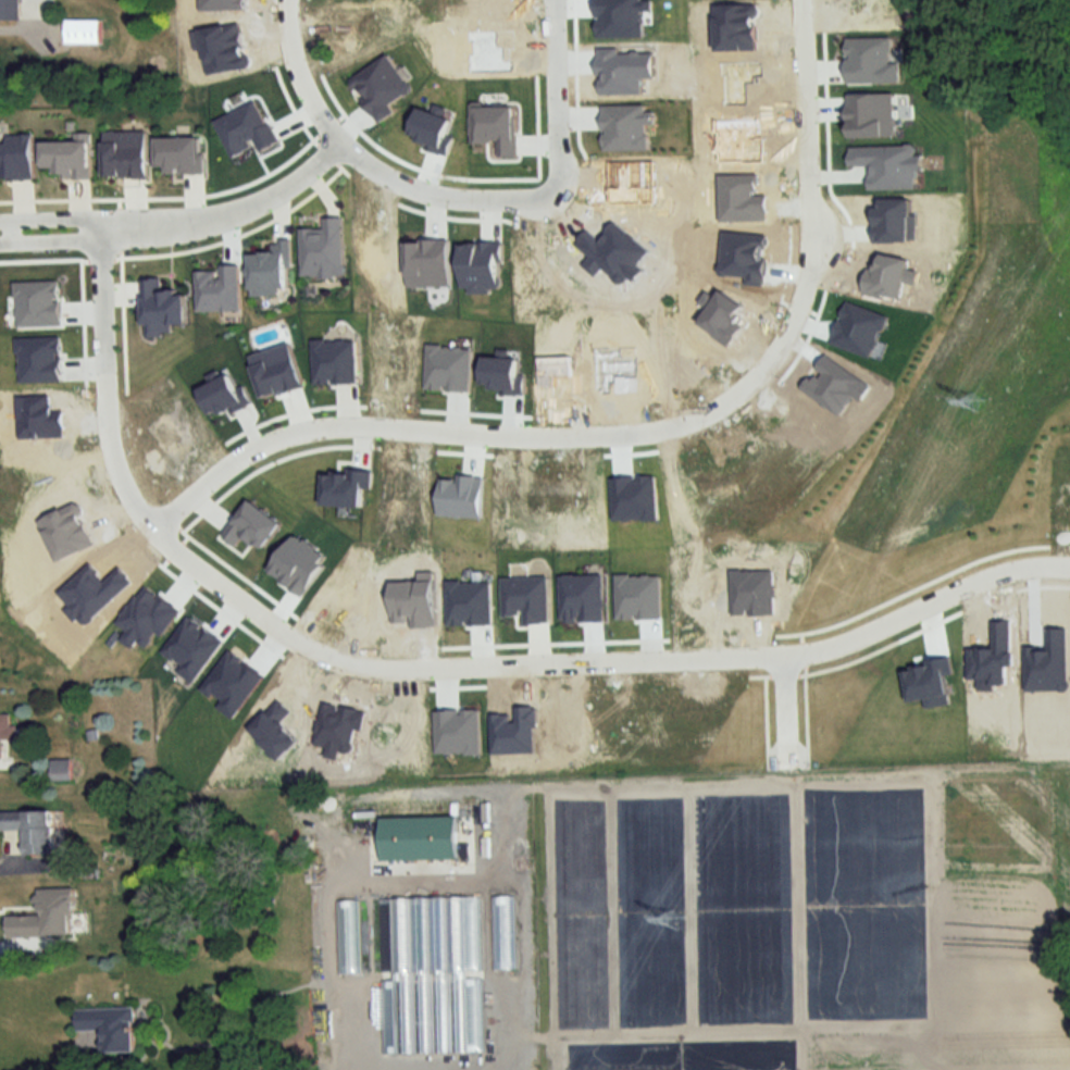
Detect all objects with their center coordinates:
building: (10, 10)
road: (26, 28)
building: (83, 32)
road: (297, 74)
road: (533, 198)
road: (240, 206)
road: (127, 227)
road: (10, 229)
power tower: (983, 400)
road: (640, 430)
road: (435, 667)
building: (7, 731)
building: (61, 770)
building: (32, 829)
building: (420, 838)
power tower: (679, 922)
building: (502, 933)
building: (430, 935)
building: (347, 937)
building: (110, 1028)

